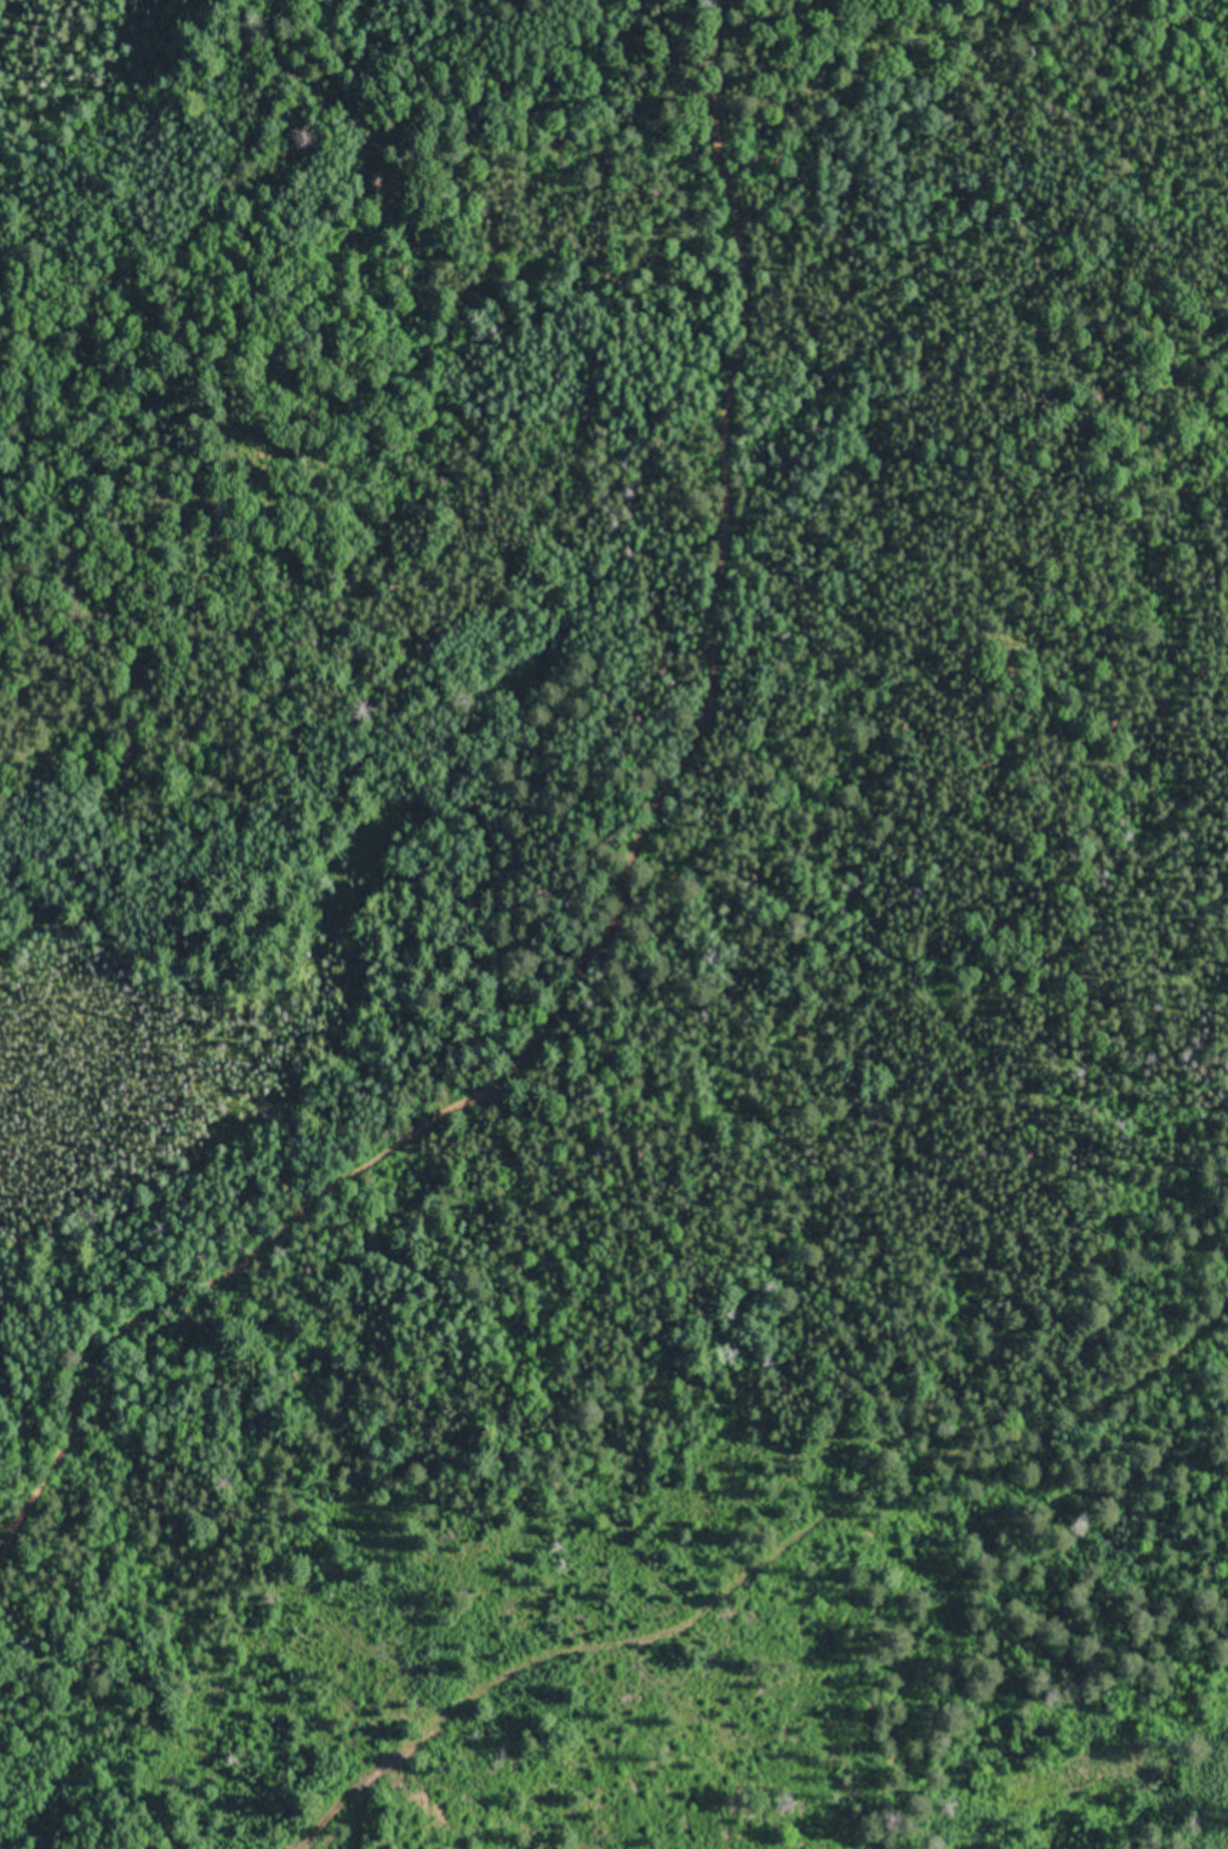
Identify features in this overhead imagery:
road: (590, 866)
road: (632, 1582)
road: (205, 1837)

